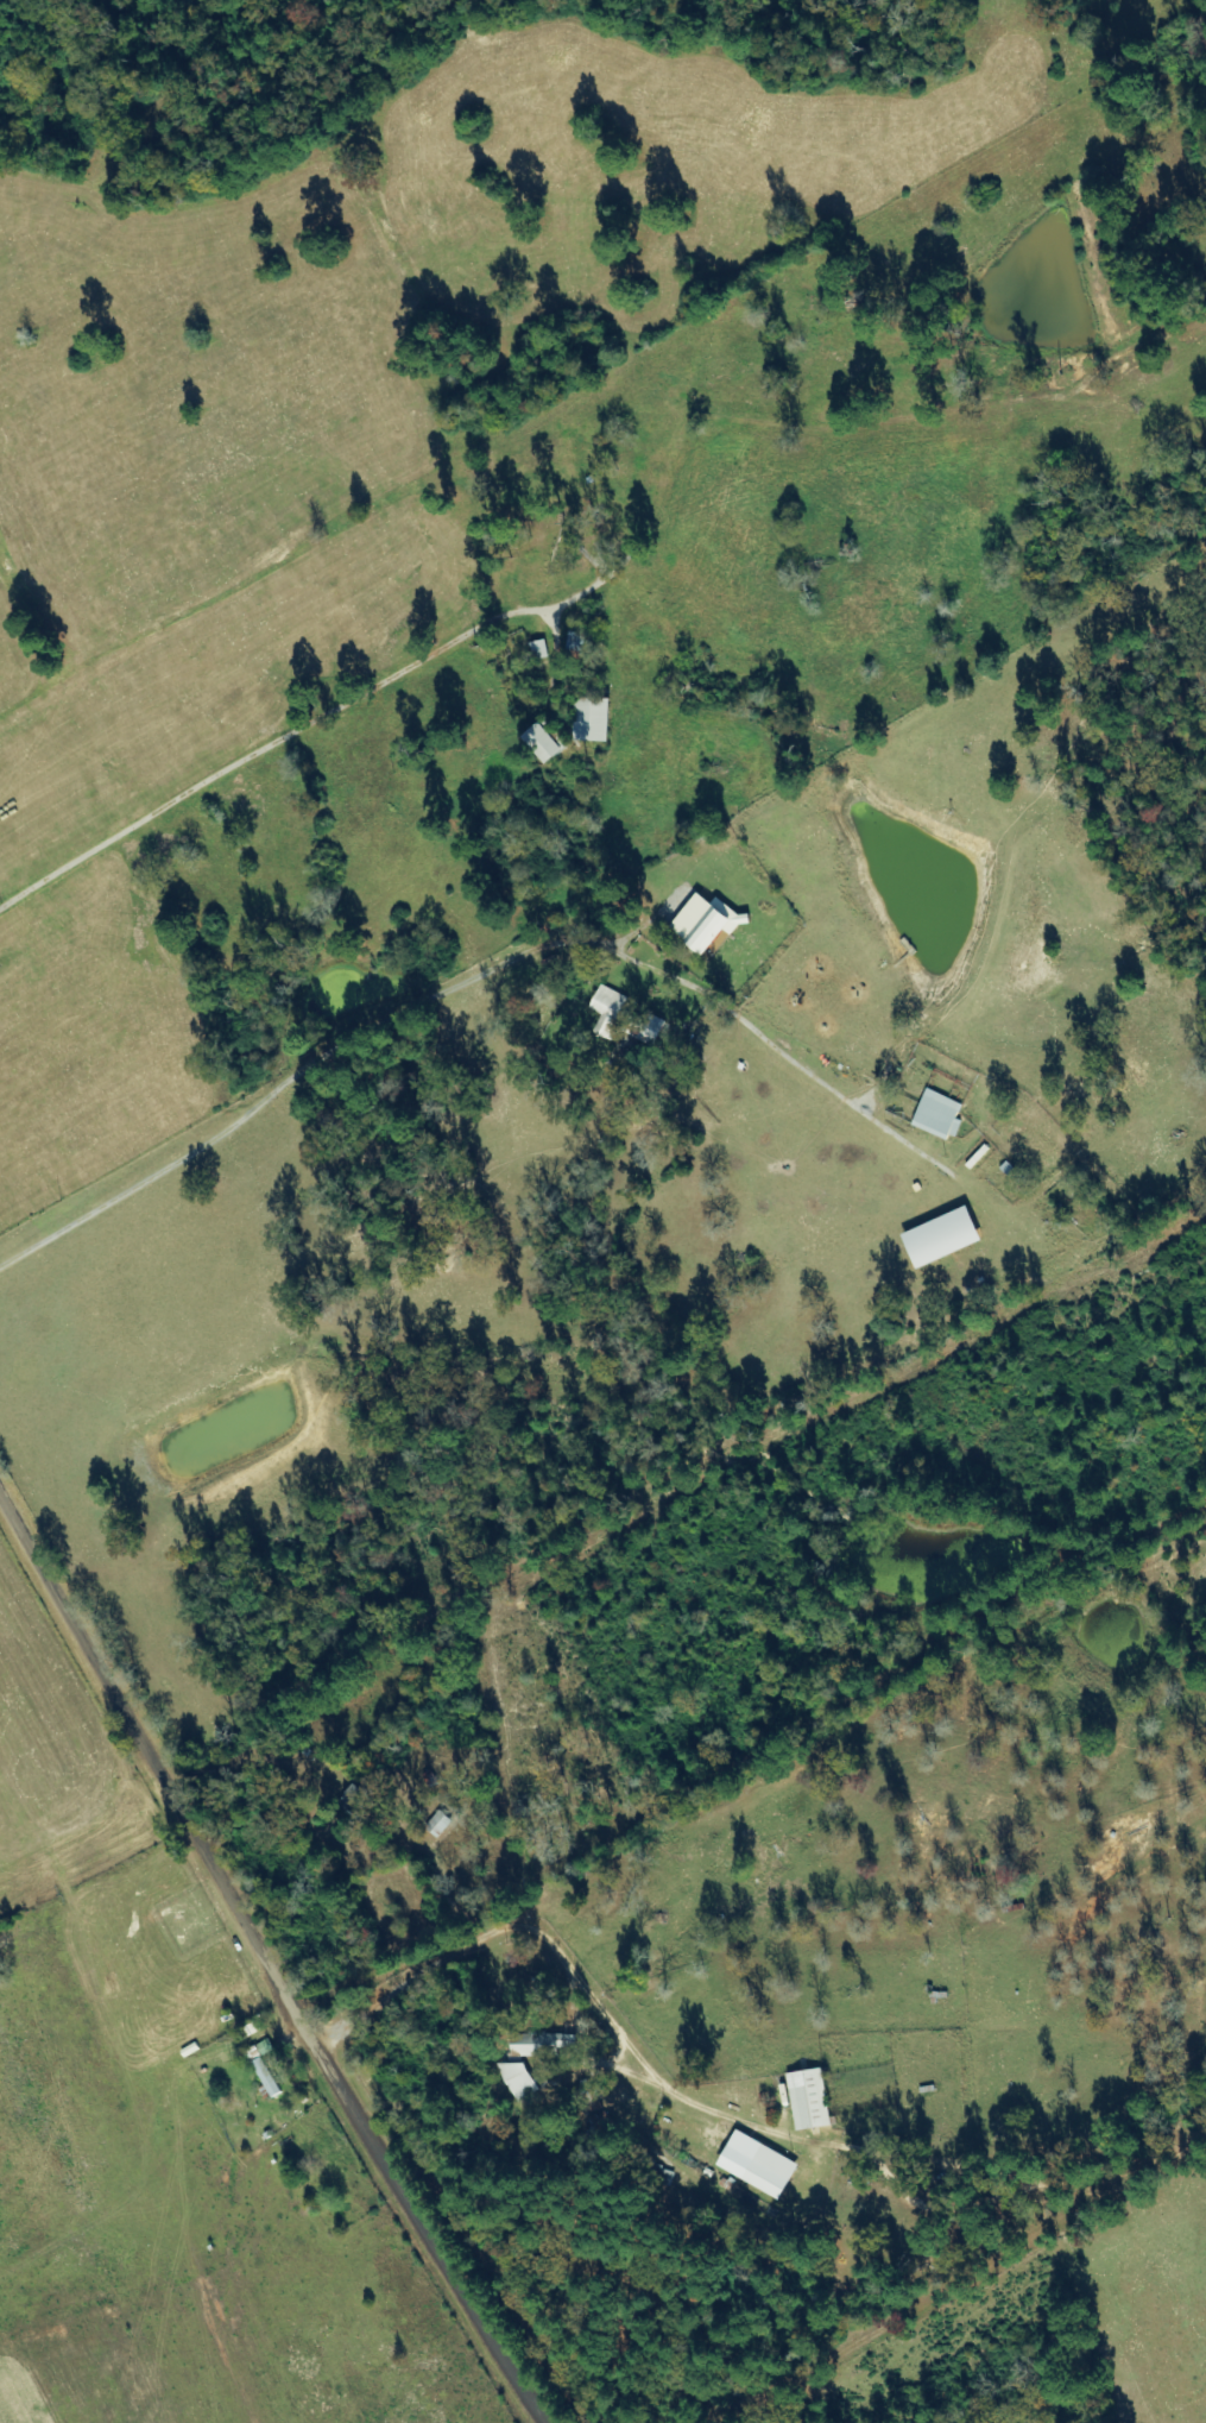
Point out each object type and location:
building: (598, 719)
building: (548, 743)
building: (711, 923)
building: (610, 1011)
building: (940, 1114)
building: (947, 1238)
building: (441, 1823)
road: (242, 1968)
building: (547, 2044)
building: (265, 2066)
building: (523, 2079)
building: (812, 2098)
building: (762, 2164)

